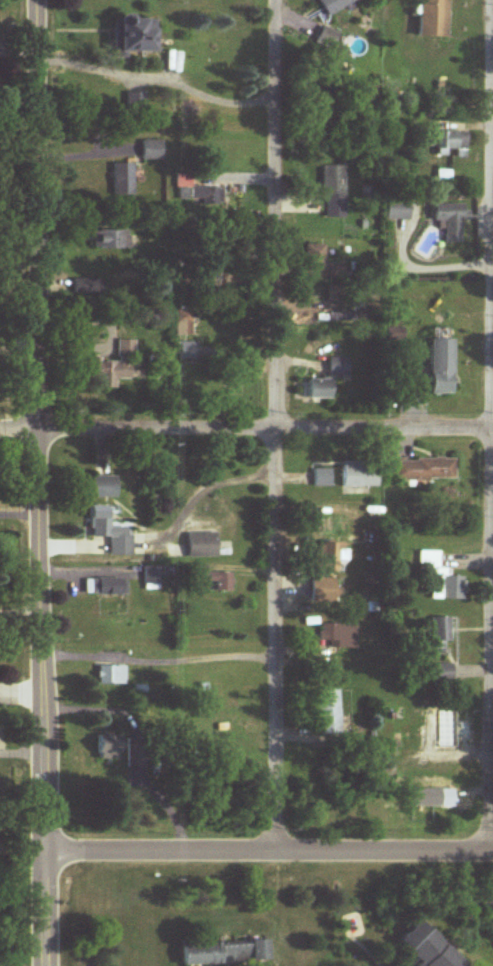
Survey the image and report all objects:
building: (335, 5)
building: (433, 19)
building: (133, 35)
building: (328, 38)
road: (158, 75)
building: (133, 100)
building: (452, 144)
building: (151, 150)
building: (443, 178)
building: (123, 179)
building: (334, 192)
building: (205, 196)
building: (450, 221)
building: (111, 238)
building: (314, 256)
building: (88, 287)
building: (182, 322)
building: (392, 331)
building: (186, 351)
building: (440, 367)
building: (112, 368)
building: (326, 380)
road: (36, 425)
road: (277, 426)
road: (246, 433)
building: (424, 470)
road: (490, 472)
building: (361, 474)
building: (323, 479)
building: (104, 487)
building: (110, 531)
building: (201, 545)
building: (329, 556)
building: (151, 577)
building: (210, 578)
building: (441, 579)
building: (105, 587)
building: (325, 590)
building: (337, 634)
building: (440, 635)
building: (443, 673)
building: (110, 675)
building: (328, 712)
building: (449, 728)
building: (107, 747)
building: (136, 751)
building: (455, 807)
road: (266, 851)
road: (39, 908)
building: (420, 949)
building: (223, 953)

